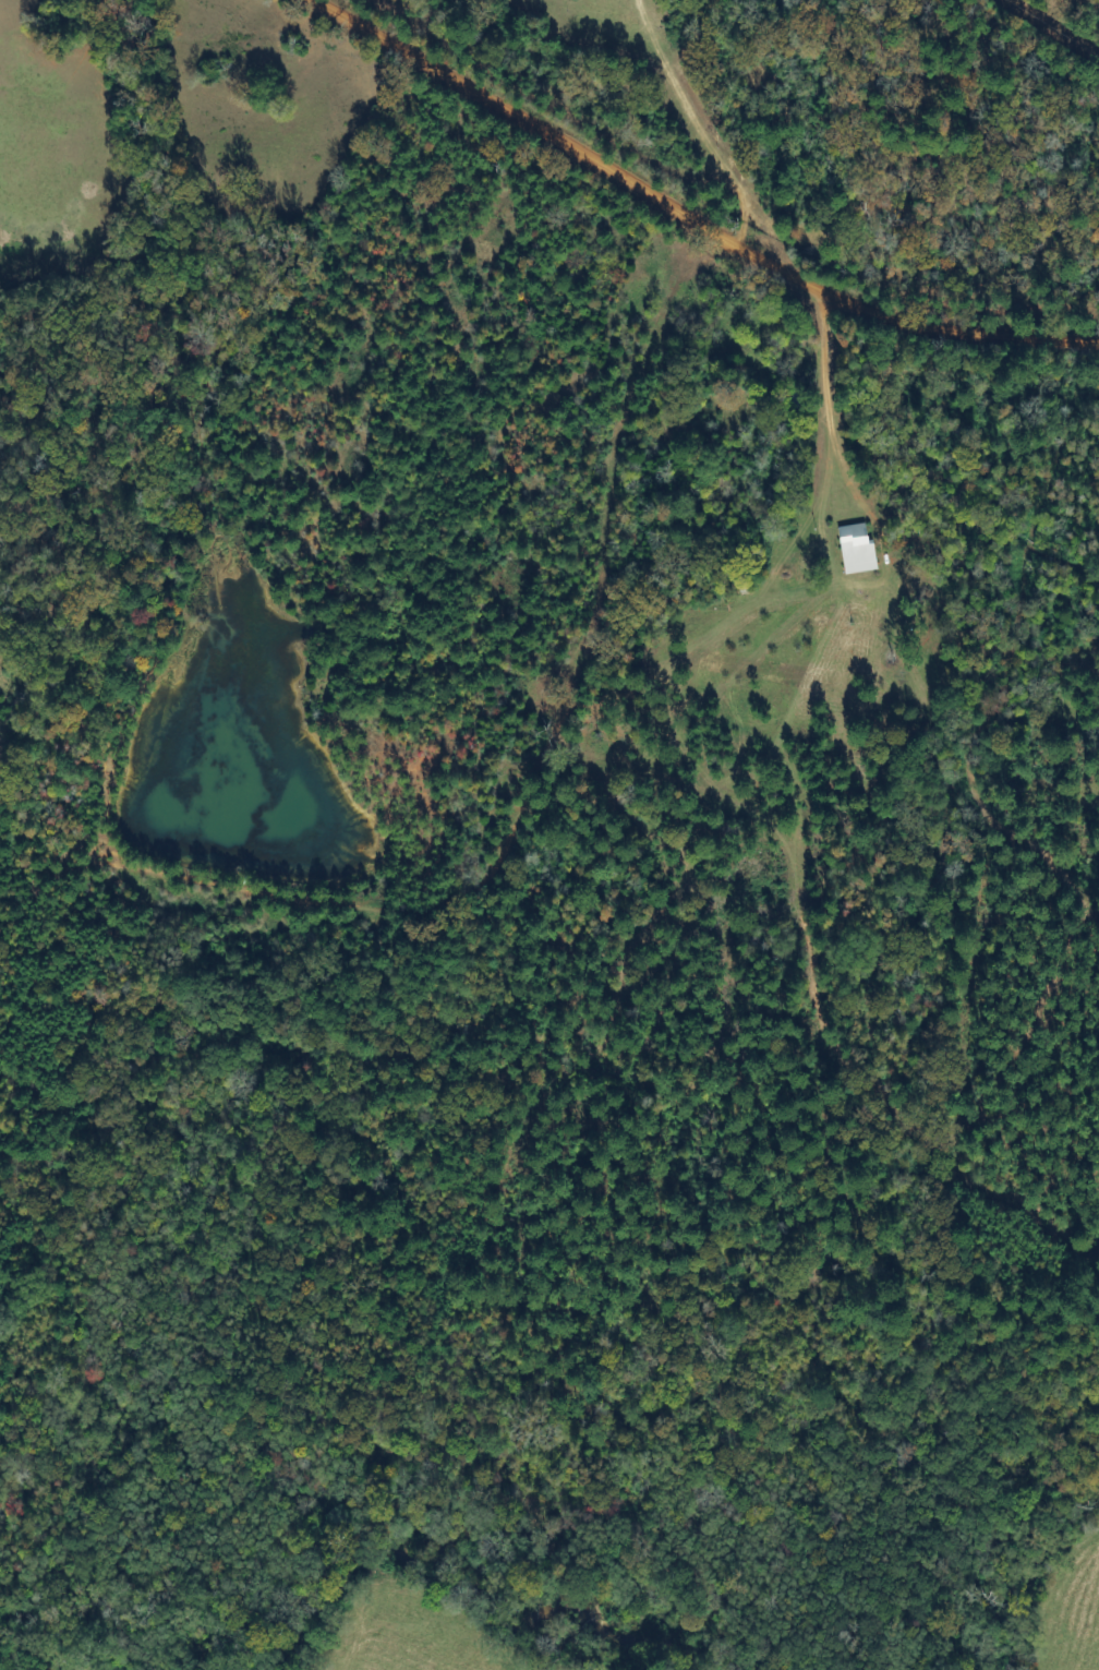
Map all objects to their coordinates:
road: (657, 228)
road: (458, 501)
building: (853, 550)

